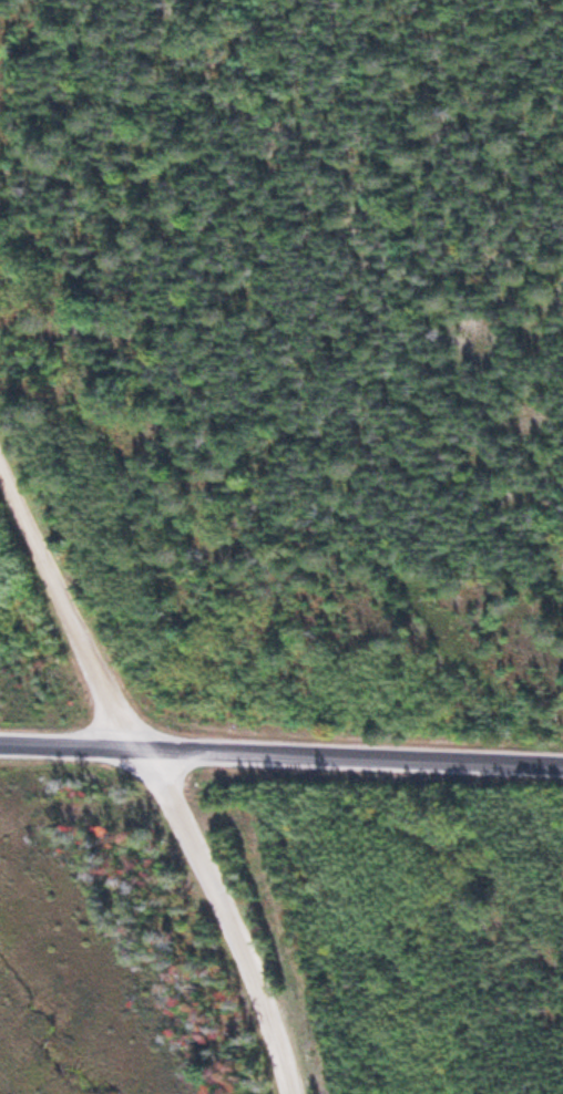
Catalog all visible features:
road: (280, 755)
road: (150, 772)

